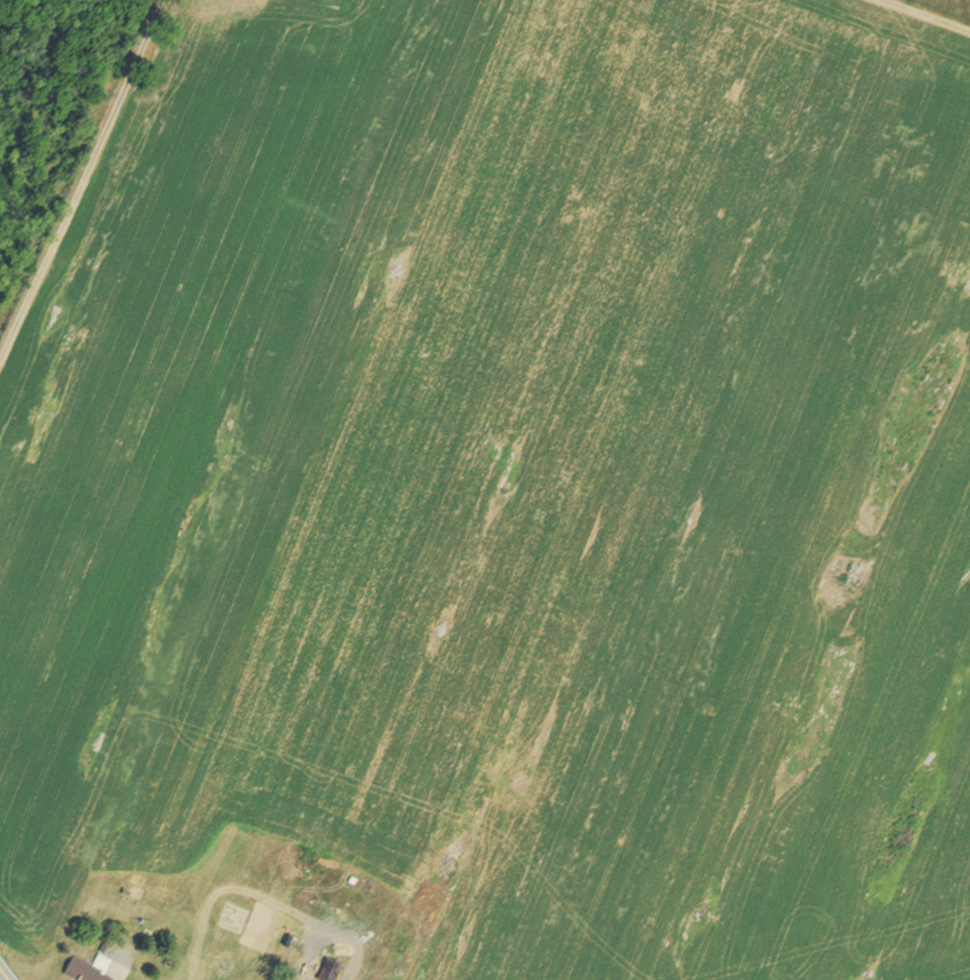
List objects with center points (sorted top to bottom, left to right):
road: (79, 159)
road: (7, 970)

